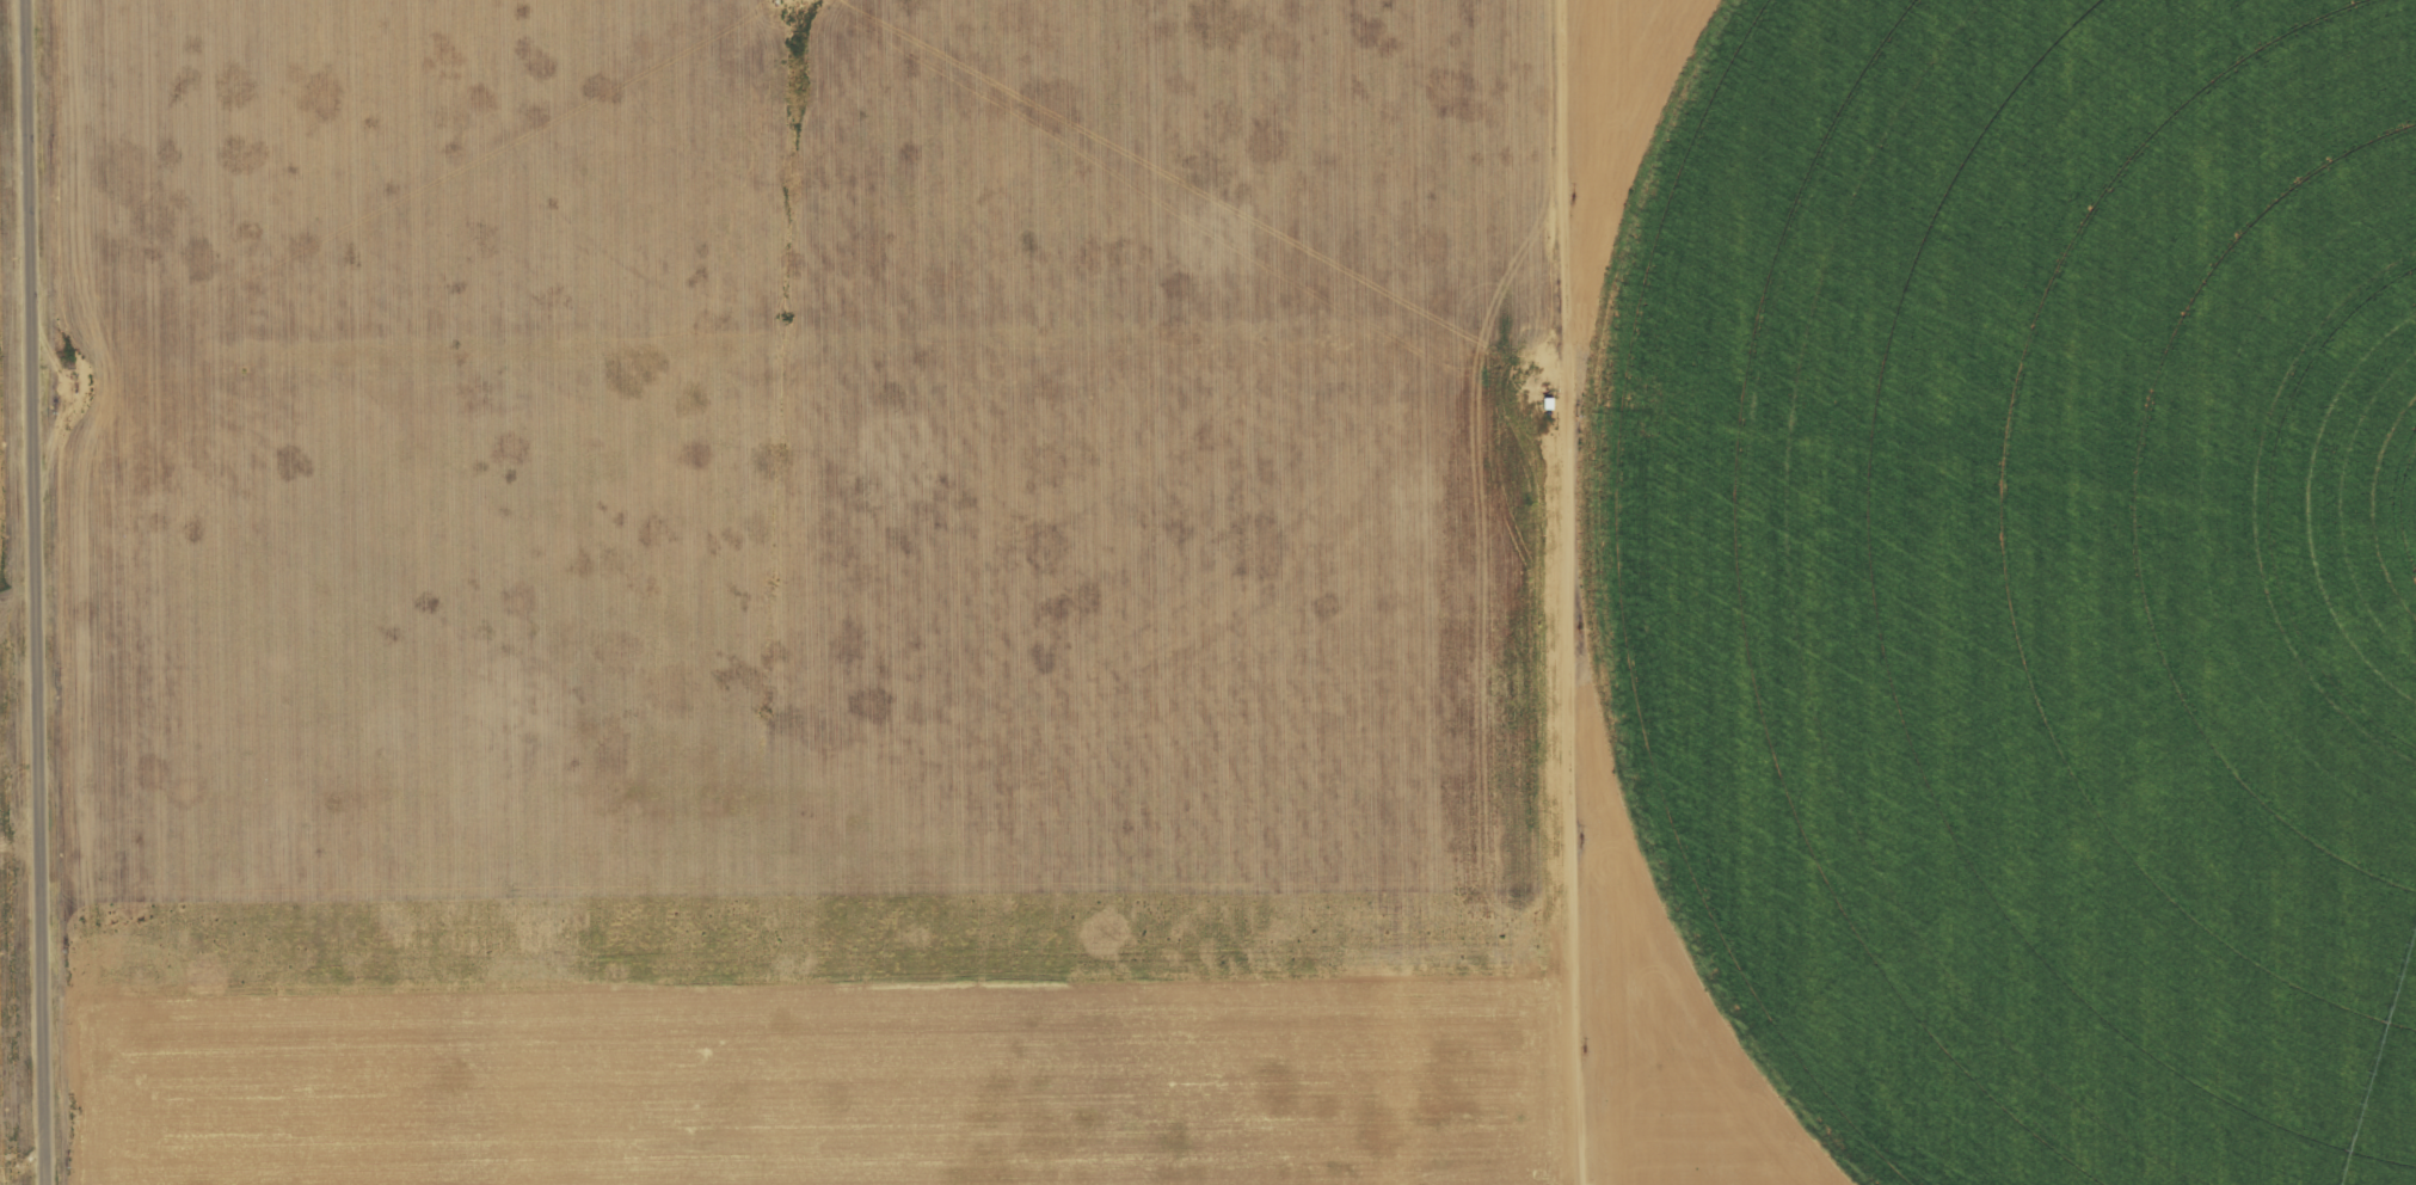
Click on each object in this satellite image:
road: (793, 373)
road: (1991, 505)
road: (1569, 591)
road: (31, 592)

